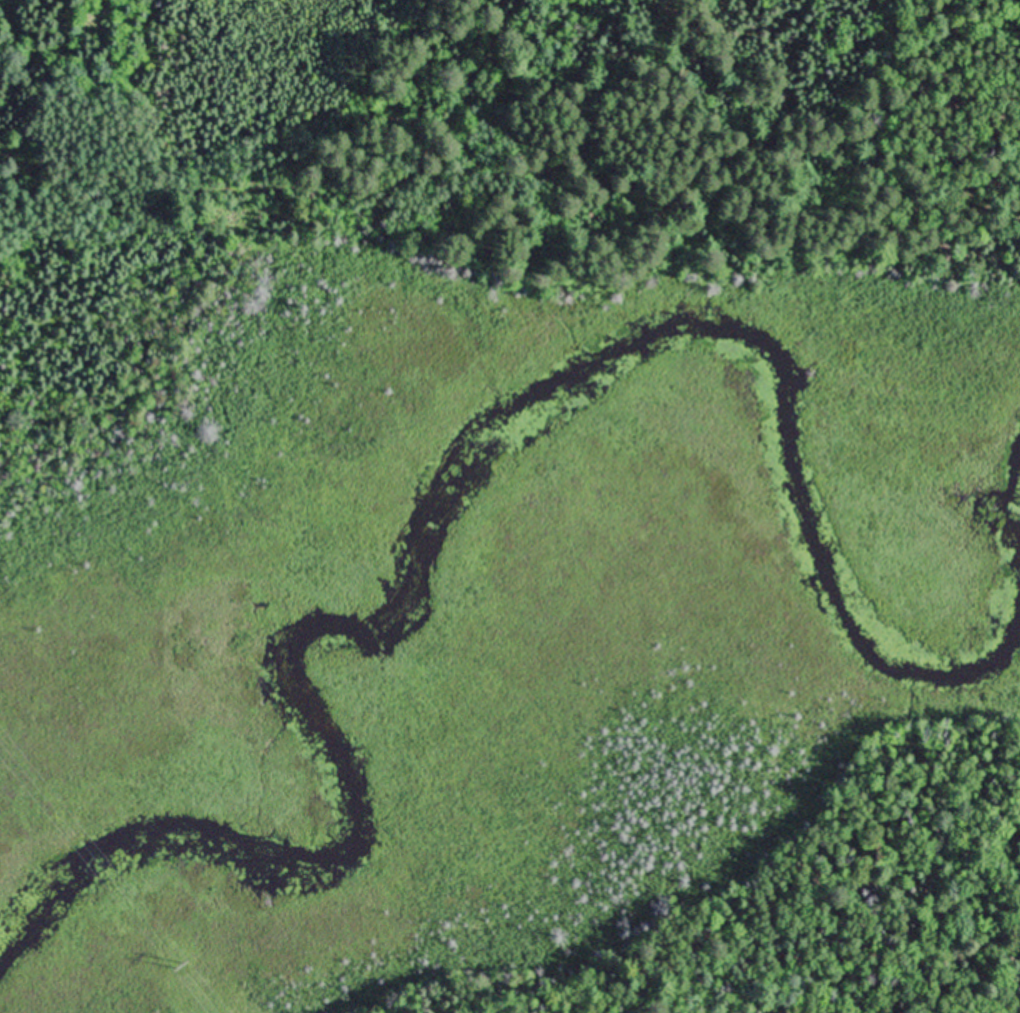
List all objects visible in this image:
power tower: (195, 968)

